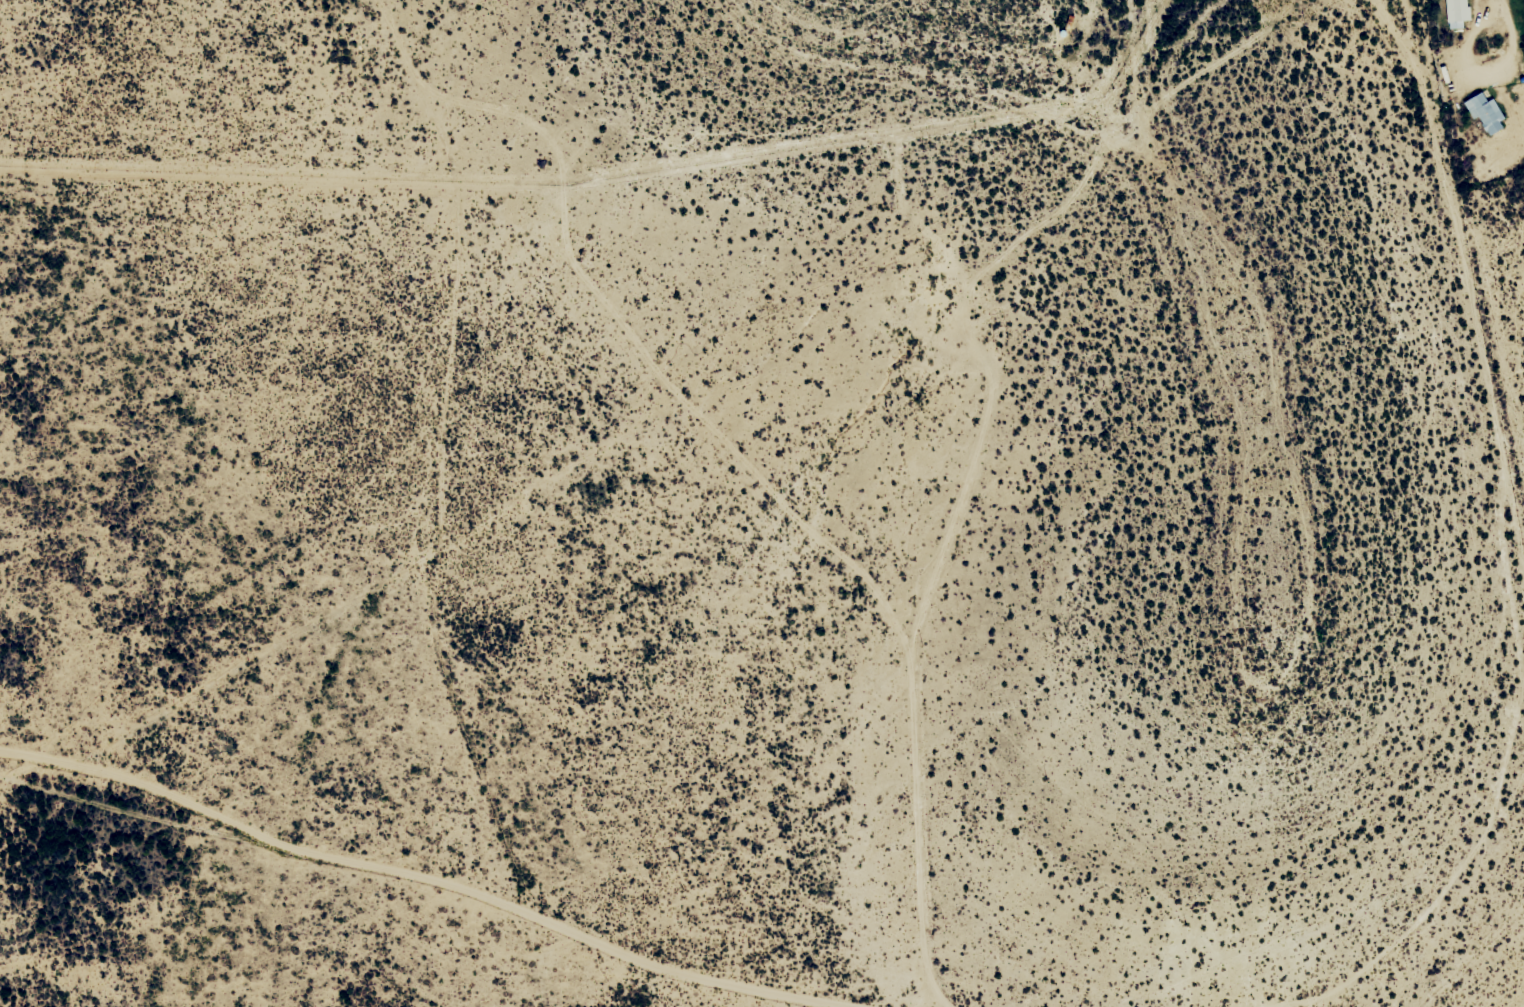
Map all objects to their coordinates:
building: (1454, 12)
road: (1482, 71)
building: (1482, 110)

